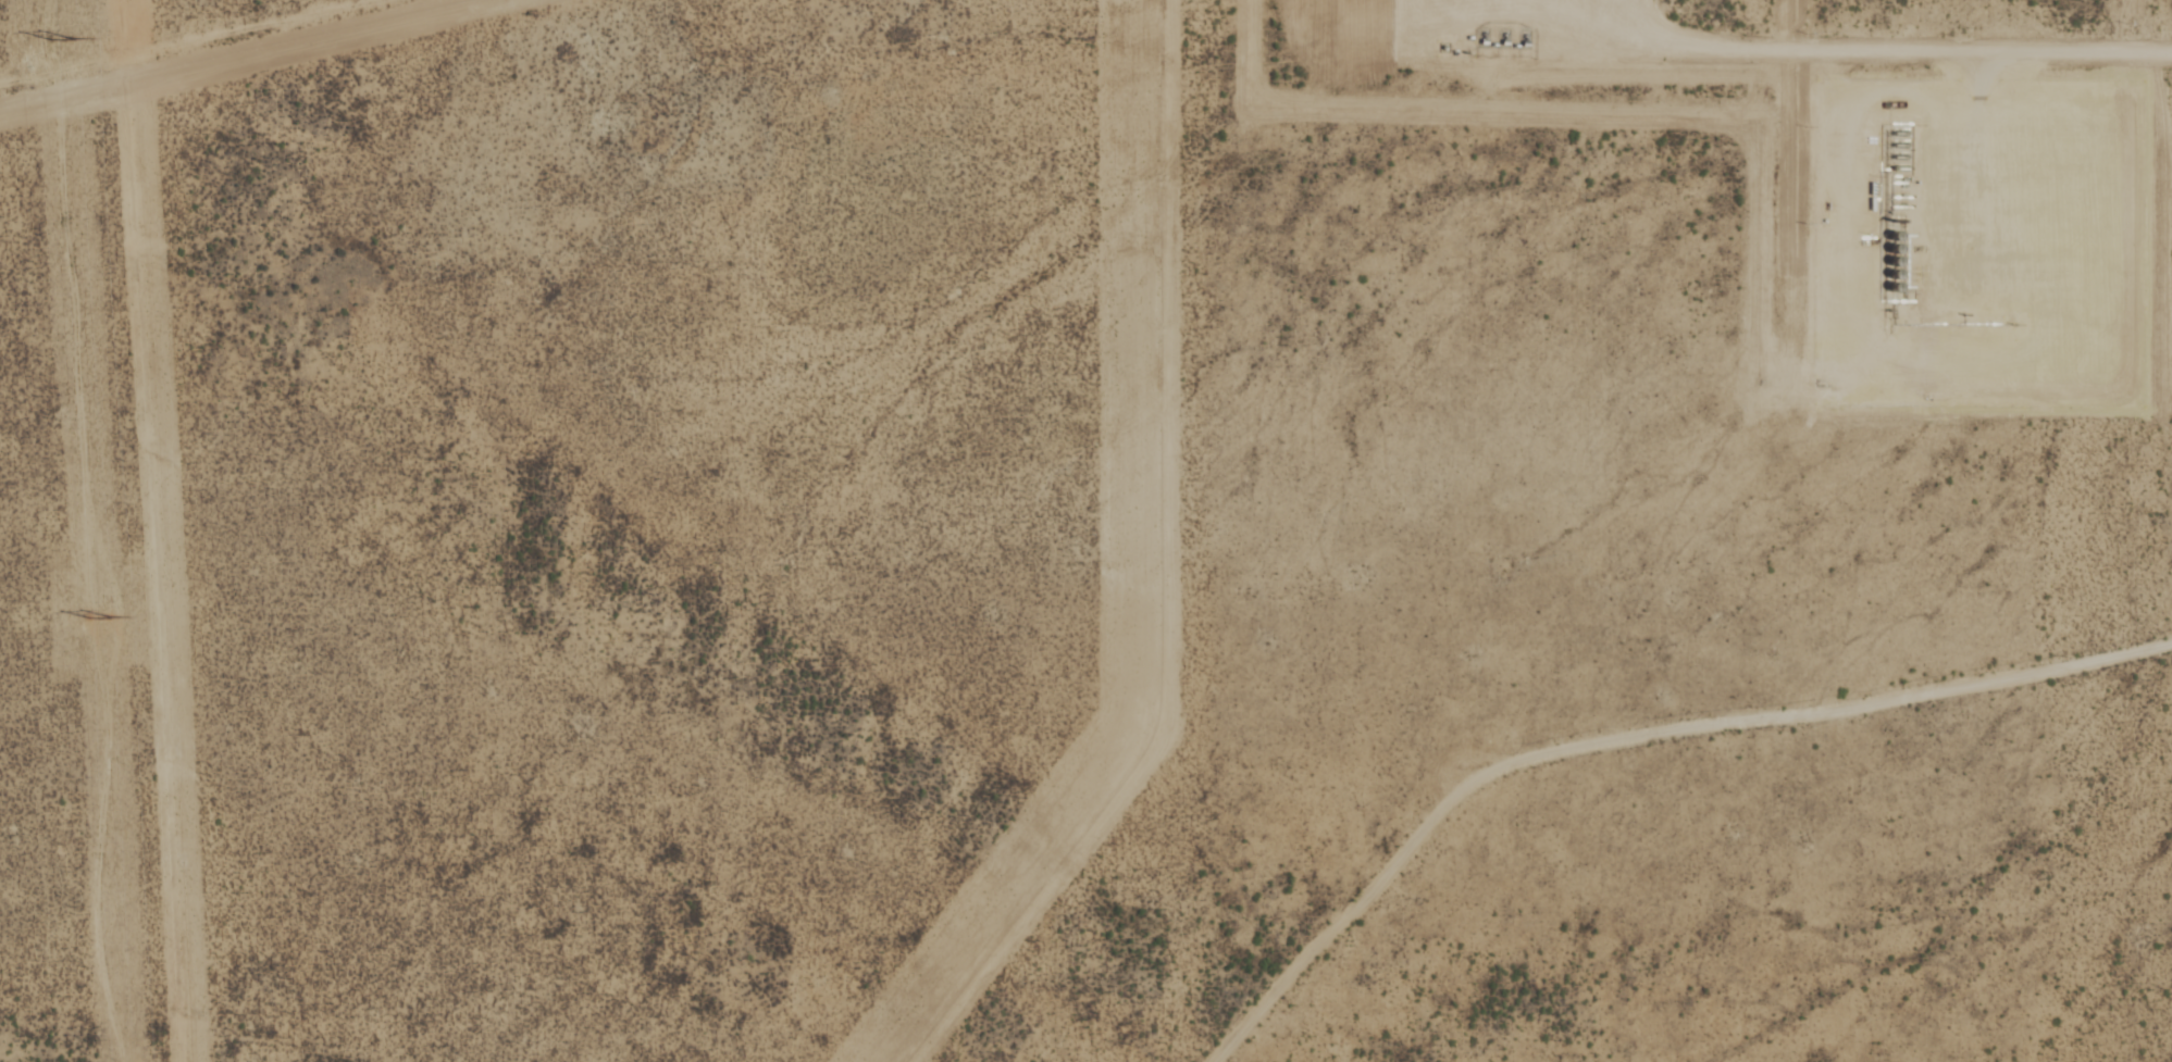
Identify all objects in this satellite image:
power tower: (53, 40)
road: (1817, 51)
power tower: (91, 617)
road: (1635, 735)

